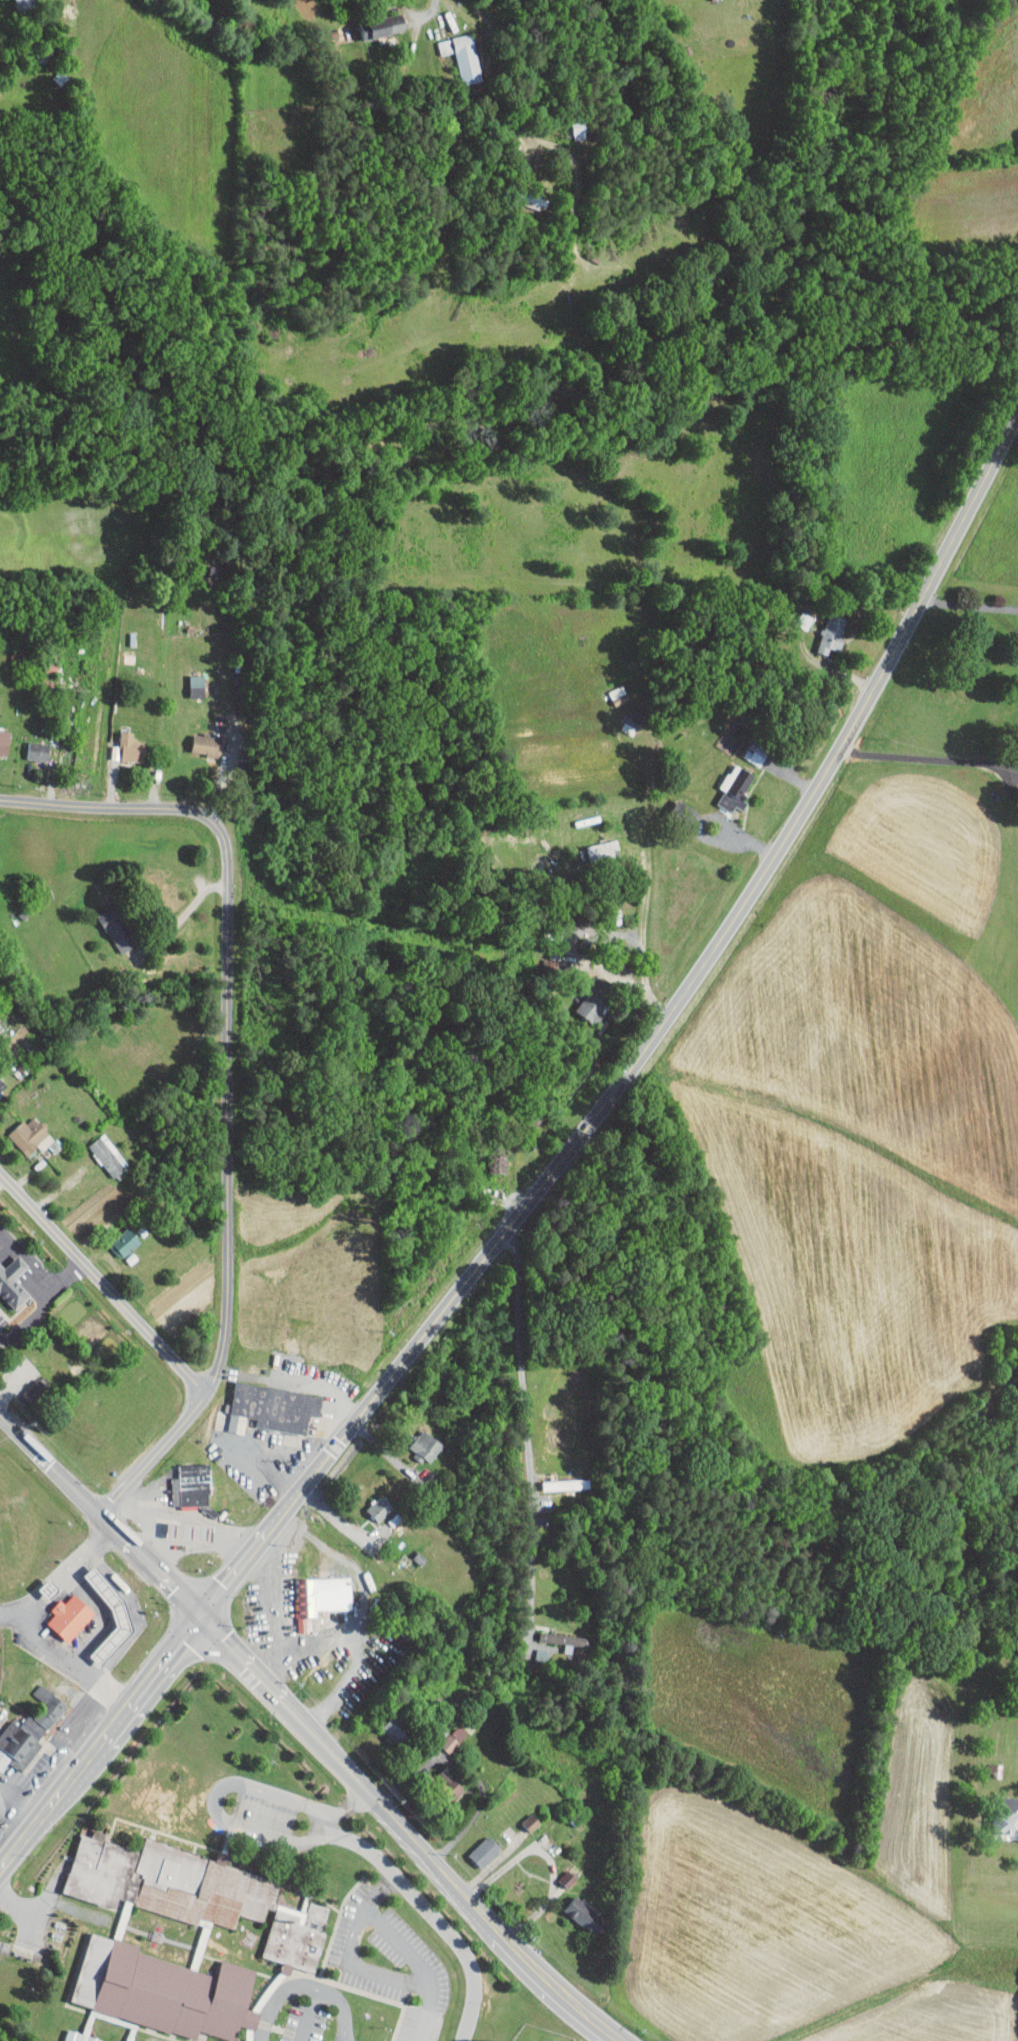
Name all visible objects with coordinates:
road: (421, 15)
building: (380, 18)
building: (435, 40)
building: (459, 51)
road: (970, 606)
building: (824, 627)
building: (1017, 655)
building: (188, 679)
building: (1017, 726)
building: (0, 734)
building: (198, 739)
building: (119, 742)
building: (30, 745)
road: (941, 760)
road: (223, 769)
building: (723, 786)
road: (118, 806)
building: (594, 844)
road: (190, 905)
building: (111, 928)
building: (580, 1002)
building: (21, 1129)
building: (98, 1150)
road: (552, 1173)
road: (226, 1195)
building: (118, 1237)
building: (12, 1282)
road: (102, 1284)
road: (42, 1305)
parking lot: (3, 1321)
building: (30, 1387)
building: (274, 1407)
road: (529, 1431)
building: (416, 1439)
building: (192, 1486)
building: (370, 1502)
building: (187, 1533)
road: (58, 1571)
building: (51, 1589)
building: (322, 1595)
road: (269, 1610)
road: (360, 1610)
traffic signals: (203, 1614)
building: (118, 1616)
gas station: (118, 1616)
building: (68, 1618)
building: (551, 1633)
road: (315, 1640)
road: (35, 1641)
road: (83, 1643)
building: (531, 1649)
building: (23, 1722)
road: (310, 1727)
road: (217, 1804)
road: (349, 1808)
parking lot: (265, 1812)
building: (1002, 1815)
building: (521, 1816)
road: (327, 1822)
building: (476, 1844)
building: (557, 1872)
building: (197, 1893)
building: (572, 1908)
road: (42, 1916)
road: (434, 1916)
road: (357, 1926)
road: (36, 1934)
parking lot: (392, 1963)
road: (306, 1986)
building: (166, 1991)
road: (426, 2013)
parking lot: (305, 2022)
building: (76, 2037)
building: (574, 2038)

